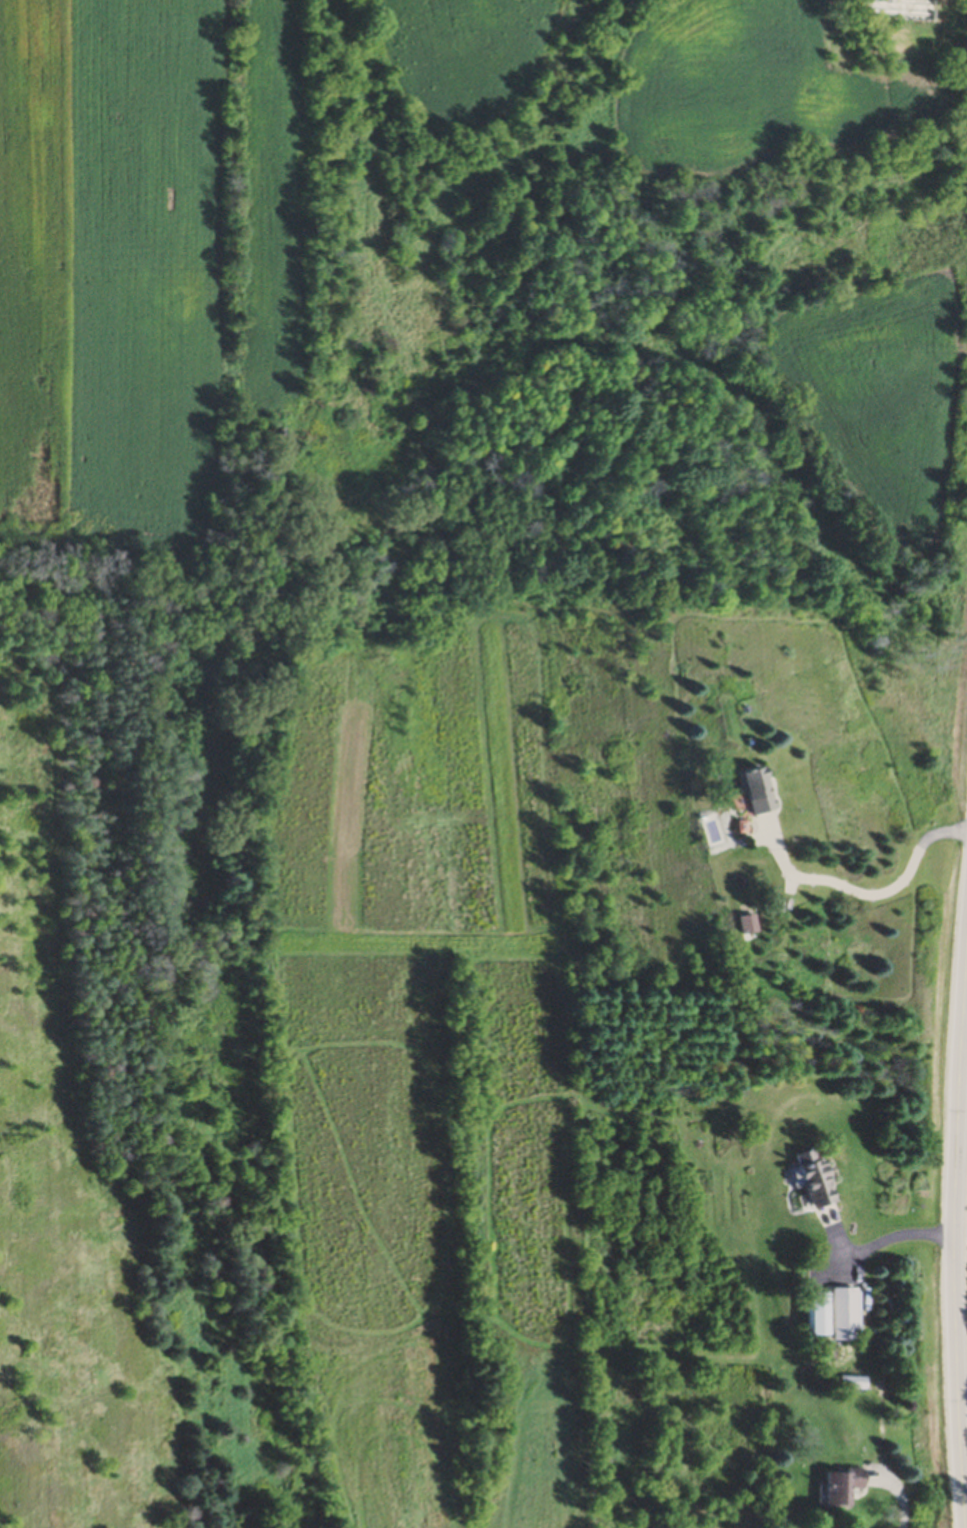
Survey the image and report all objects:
building: (750, 792)
road: (864, 895)
building: (745, 925)
building: (808, 1181)
road: (894, 1238)
road: (960, 1269)
building: (841, 1316)
building: (813, 1317)
building: (837, 1488)
road: (898, 1498)
road: (966, 1506)

